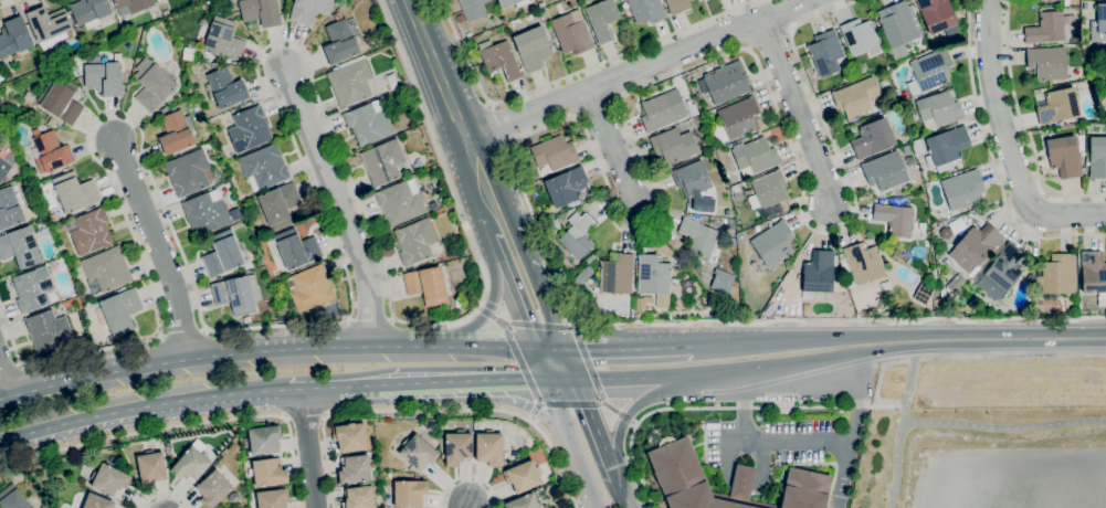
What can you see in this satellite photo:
building: (197, 0)
road: (7, 2)
building: (510, 2)
building: (131, 6)
building: (677, 6)
building: (308, 9)
building: (473, 9)
building: (646, 10)
building: (89, 11)
building: (261, 11)
building: (166, 12)
building: (338, 15)
building: (937, 15)
building: (460, 18)
building: (602, 19)
building: (202, 21)
building: (49, 23)
building: (1098, 24)
building: (898, 27)
building: (1045, 28)
building: (572, 31)
building: (14, 36)
building: (474, 38)
building: (861, 38)
building: (223, 39)
building: (340, 42)
building: (190, 43)
building: (533, 49)
building: (825, 53)
building: (499, 59)
building: (1047, 62)
road: (636, 70)
building: (929, 71)
road: (571, 75)
building: (104, 77)
building: (391, 77)
building: (350, 81)
building: (726, 82)
building: (152, 85)
building: (225, 87)
building: (855, 96)
building: (62, 100)
building: (1057, 106)
building: (692, 109)
road: (799, 109)
building: (663, 110)
building: (938, 110)
road: (455, 116)
building: (735, 119)
building: (51, 121)
building: (369, 121)
road: (501, 125)
road: (1021, 127)
building: (249, 129)
building: (1081, 130)
building: (176, 131)
building: (873, 136)
road: (1010, 144)
building: (673, 145)
building: (917, 147)
building: (946, 147)
road: (613, 149)
building: (51, 152)
building: (554, 152)
building: (1064, 156)
building: (755, 157)
building: (1097, 157)
road: (992, 159)
building: (382, 161)
building: (6, 165)
building: (264, 167)
building: (885, 171)
building: (188, 172)
building: (691, 178)
building: (566, 187)
building: (769, 189)
building: (962, 189)
building: (74, 192)
building: (738, 195)
road: (609, 197)
building: (400, 202)
building: (278, 204)
road: (340, 204)
building: (9, 209)
building: (206, 212)
building: (895, 219)
road: (329, 229)
building: (92, 231)
building: (698, 237)
building: (577, 239)
building: (415, 240)
building: (731, 241)
building: (773, 243)
building: (978, 243)
road: (158, 245)
building: (20, 247)
building: (296, 248)
building: (222, 253)
building: (589, 257)
road: (514, 258)
building: (864, 263)
building: (1005, 267)
building: (106, 269)
building: (617, 273)
building: (583, 274)
building: (1093, 274)
building: (1057, 275)
building: (818, 276)
building: (654, 277)
building: (933, 277)
building: (956, 283)
building: (426, 285)
building: (309, 287)
building: (32, 288)
building: (925, 293)
building: (234, 295)
building: (937, 303)
road: (489, 306)
building: (770, 307)
building: (120, 310)
road: (539, 317)
building: (245, 319)
road: (580, 324)
building: (48, 330)
road: (991, 338)
road: (780, 340)
road: (873, 342)
road: (622, 349)
traffic signals: (552, 350)
road: (273, 351)
road: (557, 364)
road: (767, 367)
road: (611, 377)
road: (522, 379)
traffic signals: (562, 379)
road: (912, 381)
road: (409, 382)
road: (3, 383)
road: (314, 387)
road: (143, 405)
road: (724, 408)
road: (537, 409)
road: (431, 411)
building: (786, 411)
road: (305, 417)
road: (629, 417)
road: (960, 422)
road: (857, 424)
road: (187, 425)
building: (349, 437)
road: (586, 437)
park: (986, 438)
building: (264, 440)
road: (763, 443)
building: (167, 444)
road: (308, 447)
building: (457, 447)
building: (489, 447)
building: (418, 452)
building: (191, 464)
building: (151, 467)
building: (354, 469)
building: (268, 472)
building: (678, 474)
building: (523, 476)
road: (467, 477)
building: (109, 479)
building: (213, 488)
building: (409, 493)
road: (165, 496)
building: (358, 497)
building: (12, 498)
building: (273, 498)
building: (97, 501)
building: (524, 501)
road: (612, 502)
building: (43, 505)
road: (468, 505)

